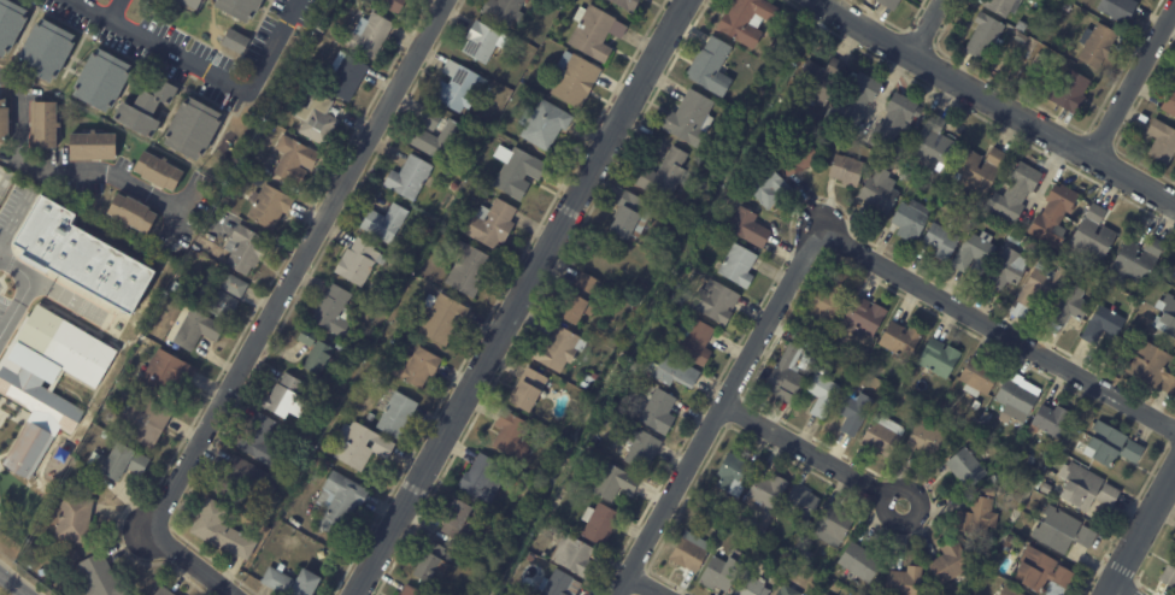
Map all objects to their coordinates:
building: (195, 2)
building: (887, 4)
building: (398, 5)
building: (633, 5)
building: (1001, 6)
building: (1065, 7)
building: (243, 8)
building: (503, 10)
building: (1117, 10)
road: (116, 11)
building: (744, 19)
building: (11, 25)
road: (926, 26)
building: (323, 28)
building: (1020, 28)
building: (374, 34)
building: (597, 34)
building: (779, 36)
building: (983, 37)
building: (481, 39)
building: (1020, 39)
building: (239, 41)
building: (1095, 47)
building: (49, 51)
building: (710, 66)
road: (204, 72)
building: (351, 76)
building: (577, 78)
road: (1132, 78)
building: (106, 81)
building: (816, 81)
building: (293, 82)
building: (459, 84)
building: (1064, 94)
building: (854, 101)
building: (748, 104)
road: (998, 104)
building: (1169, 105)
building: (151, 108)
building: (274, 113)
building: (688, 118)
building: (321, 119)
building: (736, 119)
building: (4, 120)
building: (545, 123)
building: (47, 124)
building: (891, 125)
building: (196, 129)
building: (440, 135)
building: (1161, 142)
building: (95, 146)
building: (929, 146)
building: (795, 155)
building: (249, 158)
building: (296, 160)
building: (845, 170)
building: (975, 170)
building: (161, 171)
road: (63, 173)
building: (522, 173)
building: (903, 173)
building: (662, 175)
building: (413, 177)
building: (764, 185)
building: (454, 187)
building: (879, 192)
building: (1011, 193)
building: (272, 206)
building: (135, 213)
building: (1051, 214)
building: (628, 217)
building: (910, 219)
road: (13, 222)
building: (495, 223)
building: (389, 224)
building: (746, 228)
building: (431, 231)
building: (1092, 234)
building: (939, 240)
building: (247, 251)
building: (973, 253)
building: (81, 254)
building: (1135, 260)
building: (363, 261)
road: (298, 264)
building: (735, 265)
building: (1005, 267)
building: (472, 270)
building: (237, 285)
building: (641, 288)
building: (1038, 289)
road: (23, 290)
road: (518, 296)
building: (219, 299)
building: (575, 301)
building: (713, 301)
building: (168, 304)
building: (824, 304)
building: (1069, 306)
building: (143, 311)
building: (337, 311)
building: (863, 316)
building: (1168, 316)
building: (443, 319)
building: (1100, 325)
building: (196, 329)
road: (997, 329)
building: (899, 340)
building: (693, 343)
building: (829, 347)
building: (554, 348)
building: (321, 350)
building: (938, 358)
building: (422, 367)
building: (1152, 367)
building: (672, 371)
building: (891, 371)
building: (171, 373)
building: (595, 377)
building: (786, 377)
building: (977, 377)
building: (49, 383)
building: (528, 389)
building: (821, 393)
building: (290, 397)
building: (1016, 399)
building: (976, 403)
building: (654, 410)
road: (717, 412)
building: (852, 413)
building: (401, 414)
building: (986, 416)
building: (619, 420)
building: (1048, 420)
building: (147, 422)
building: (563, 426)
building: (107, 435)
building: (881, 435)
building: (511, 436)
building: (264, 440)
building: (923, 440)
building: (364, 446)
building: (1110, 447)
building: (638, 448)
road: (812, 453)
building: (1026, 458)
building: (122, 461)
building: (964, 467)
building: (732, 473)
building: (997, 478)
building: (249, 479)
building: (483, 479)
building: (298, 482)
building: (610, 482)
building: (1085, 487)
building: (1045, 489)
building: (764, 491)
building: (988, 493)
building: (798, 502)
building: (343, 503)
building: (716, 507)
building: (701, 513)
building: (975, 517)
building: (76, 519)
building: (457, 519)
building: (597, 524)
building: (832, 525)
building: (1061, 528)
road: (1140, 531)
building: (228, 534)
building: (1006, 549)
building: (570, 555)
building: (686, 555)
building: (597, 556)
road: (193, 561)
building: (858, 561)
building: (947, 564)
building: (429, 565)
building: (284, 567)
building: (1039, 569)
building: (792, 570)
building: (718, 575)
building: (1168, 576)
building: (105, 578)
building: (901, 582)
building: (296, 583)
building: (558, 584)
road: (645, 584)
road: (11, 585)
building: (748, 587)
building: (407, 590)
building: (166, 591)
building: (786, 591)
building: (1007, 591)
road: (1114, 591)
building: (819, 594)

